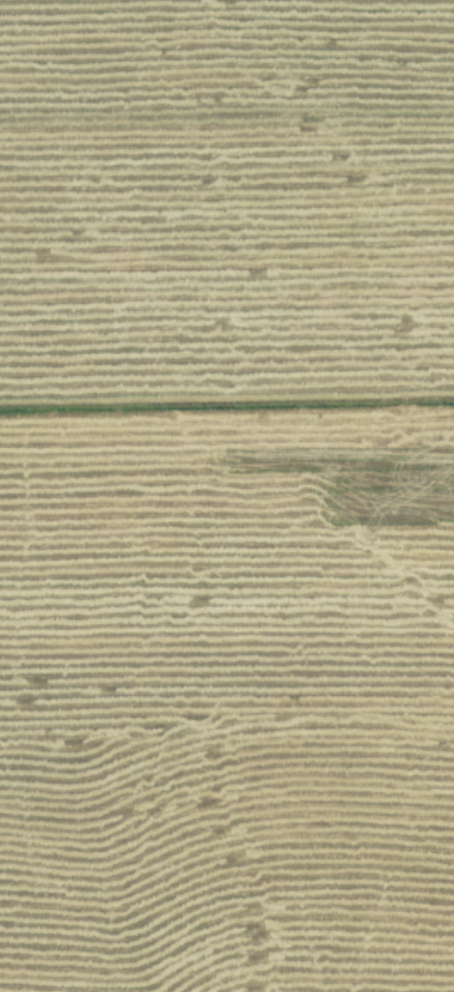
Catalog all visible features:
crop: (227, 496)

